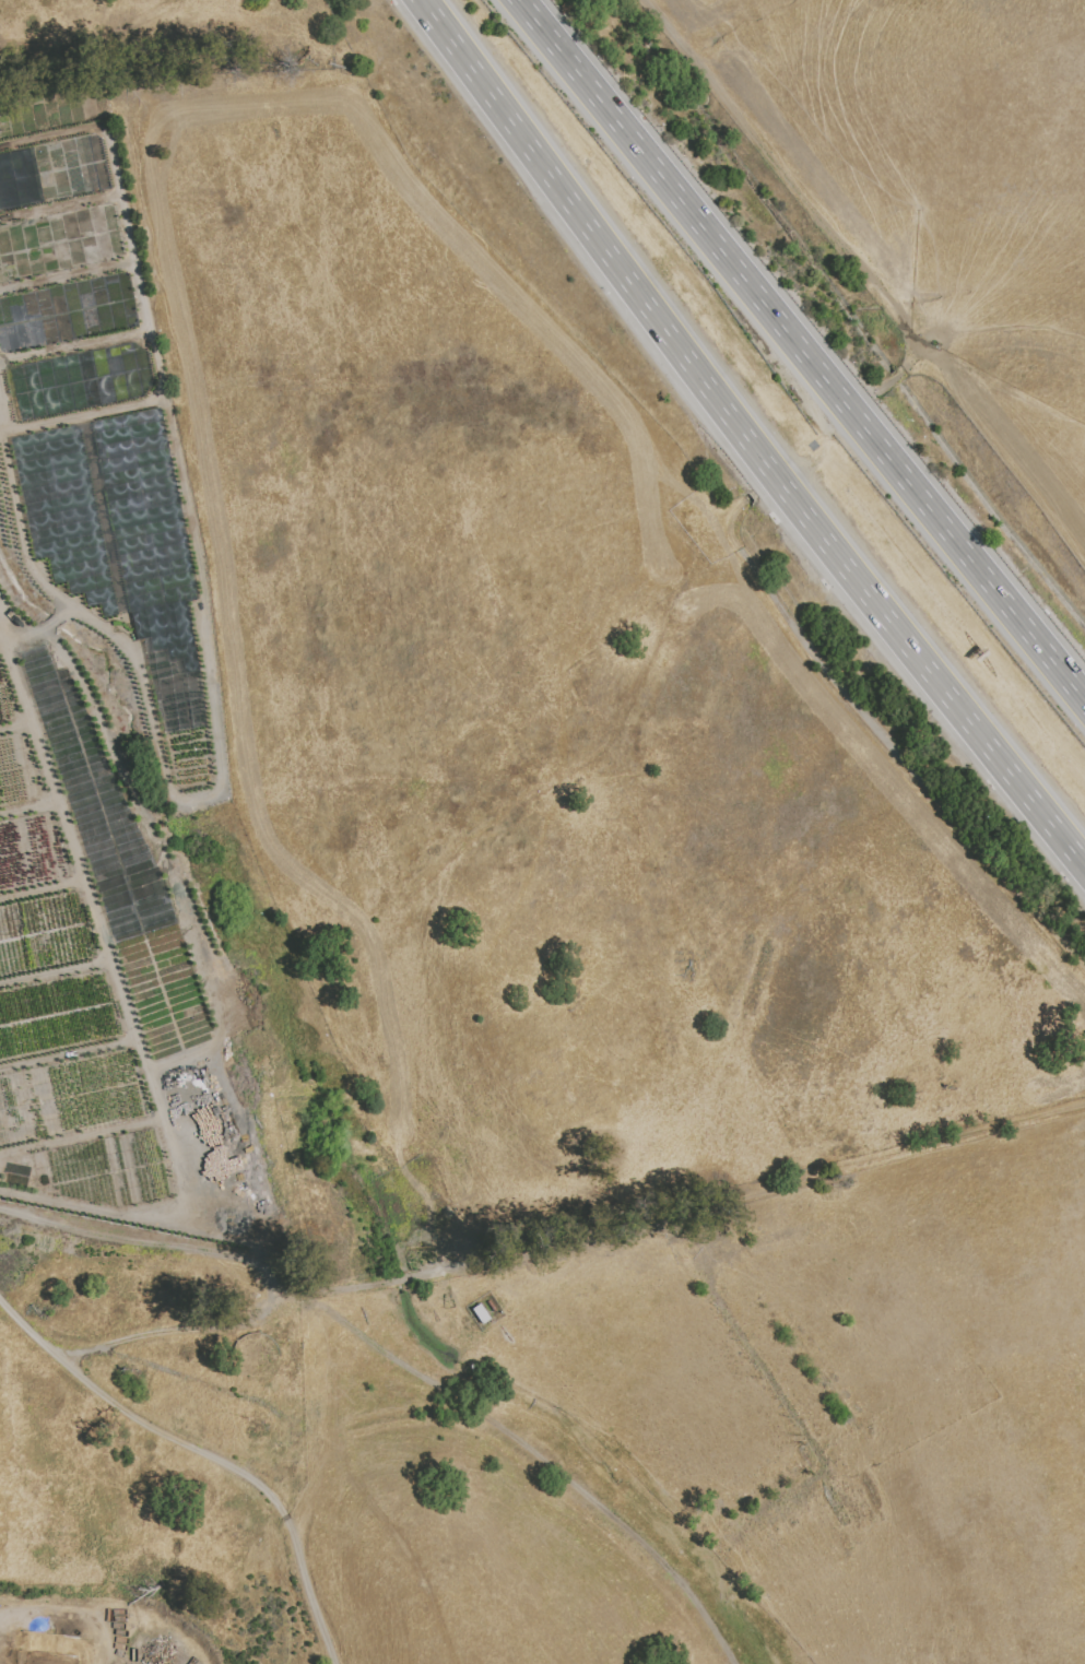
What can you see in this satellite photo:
road: (797, 187)
road: (59, 206)
road: (67, 278)
road: (140, 296)
road: (74, 349)
road: (803, 349)
road: (1, 430)
road: (747, 434)
road: (818, 445)
road: (888, 741)
building: (186, 1085)
building: (189, 1101)
building: (427, 1180)
road: (748, 1197)
building: (437, 1206)
building: (453, 1223)
building: (458, 1239)
building: (451, 1248)
road: (404, 1283)
building: (221, 1287)
building: (244, 1309)
building: (482, 1317)
road: (231, 1321)
building: (507, 1336)
building: (271, 1391)
building: (92, 1409)
road: (210, 1448)
building: (85, 1459)
building: (184, 1459)
road: (543, 1459)
road: (314, 1484)
road: (363, 1494)
building: (247, 1500)
building: (280, 1531)
building: (269, 1574)
road: (72, 1613)

